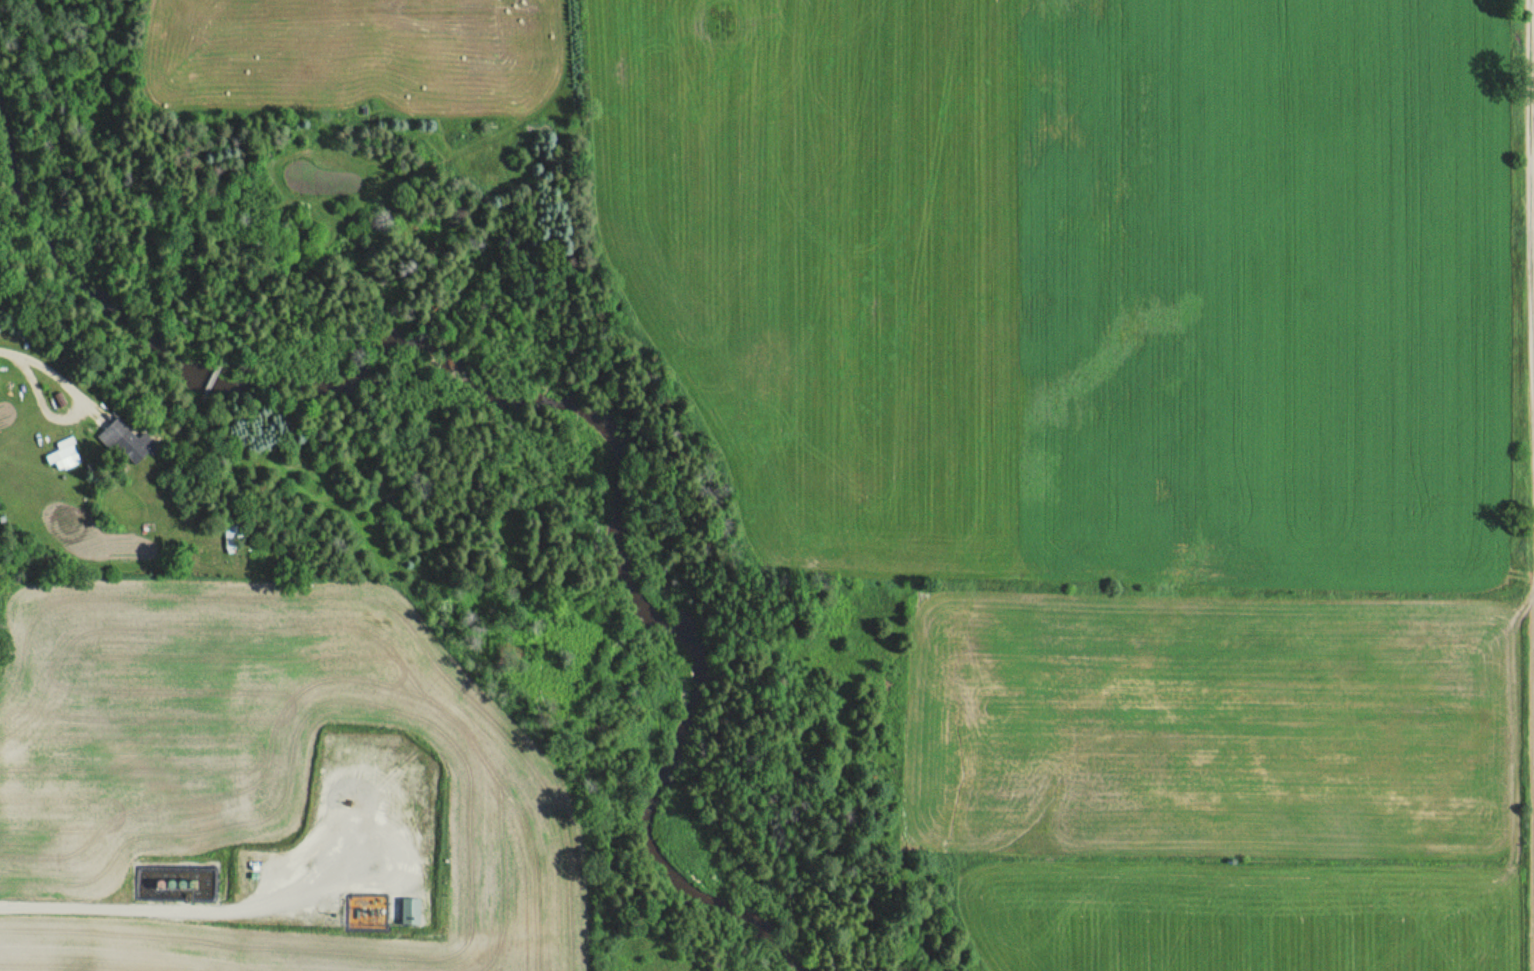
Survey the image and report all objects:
river: (547, 392)
building: (126, 441)
building: (63, 455)
building: (233, 534)
building: (417, 773)
building: (414, 894)

